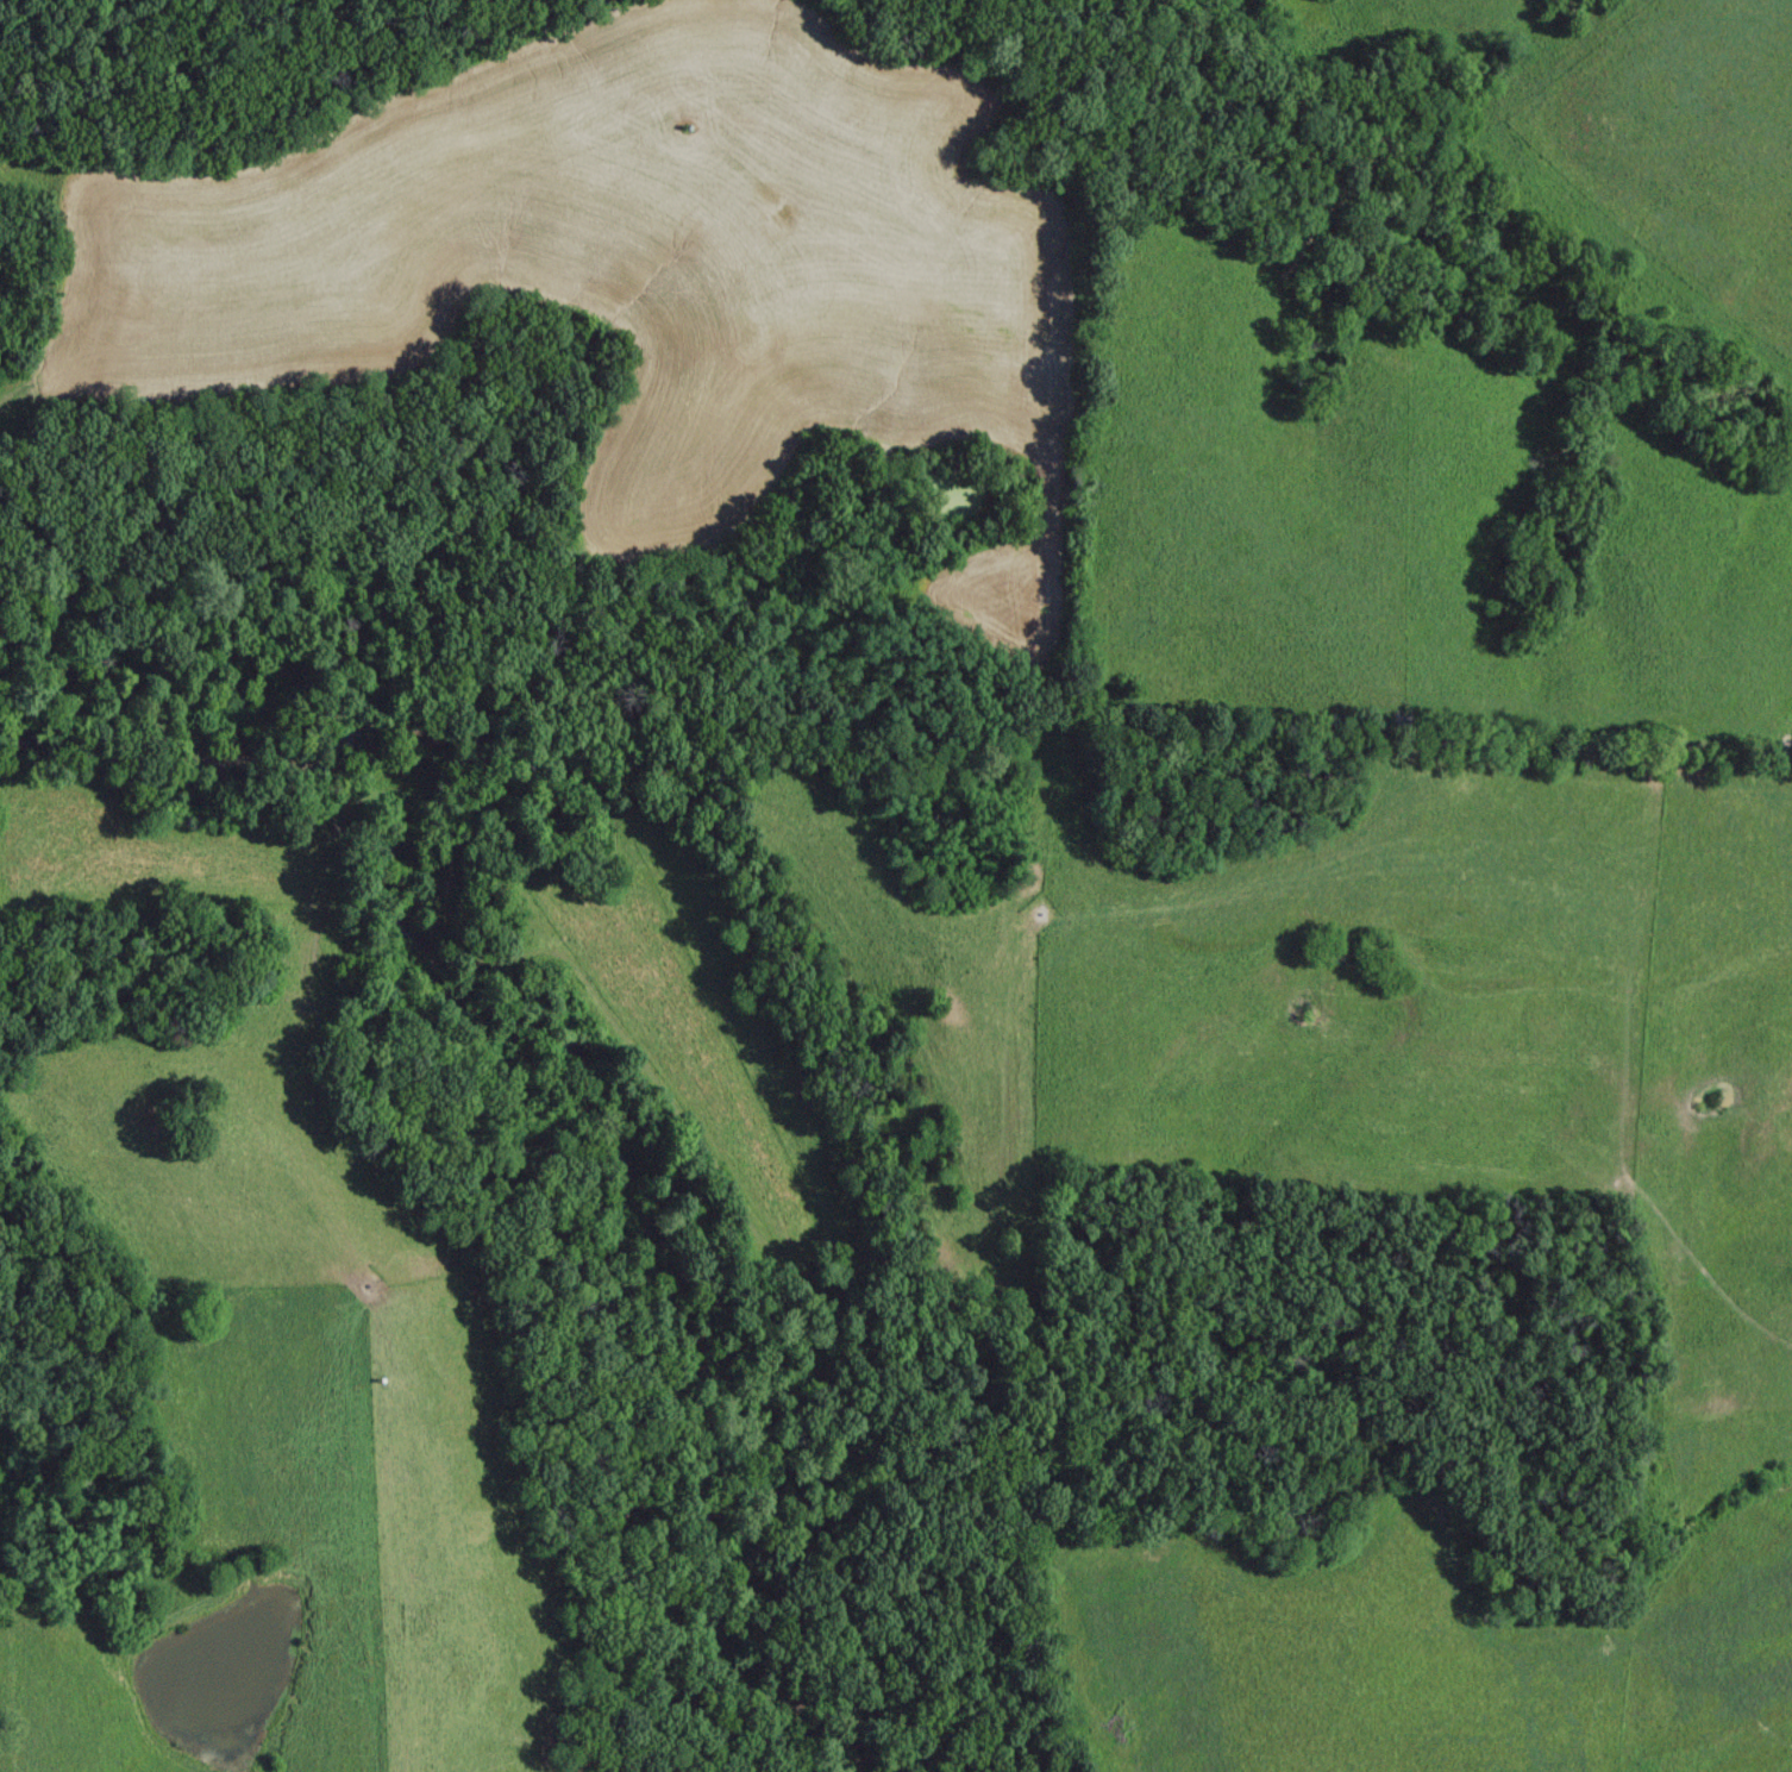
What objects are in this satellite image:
road: (1500, 469)

